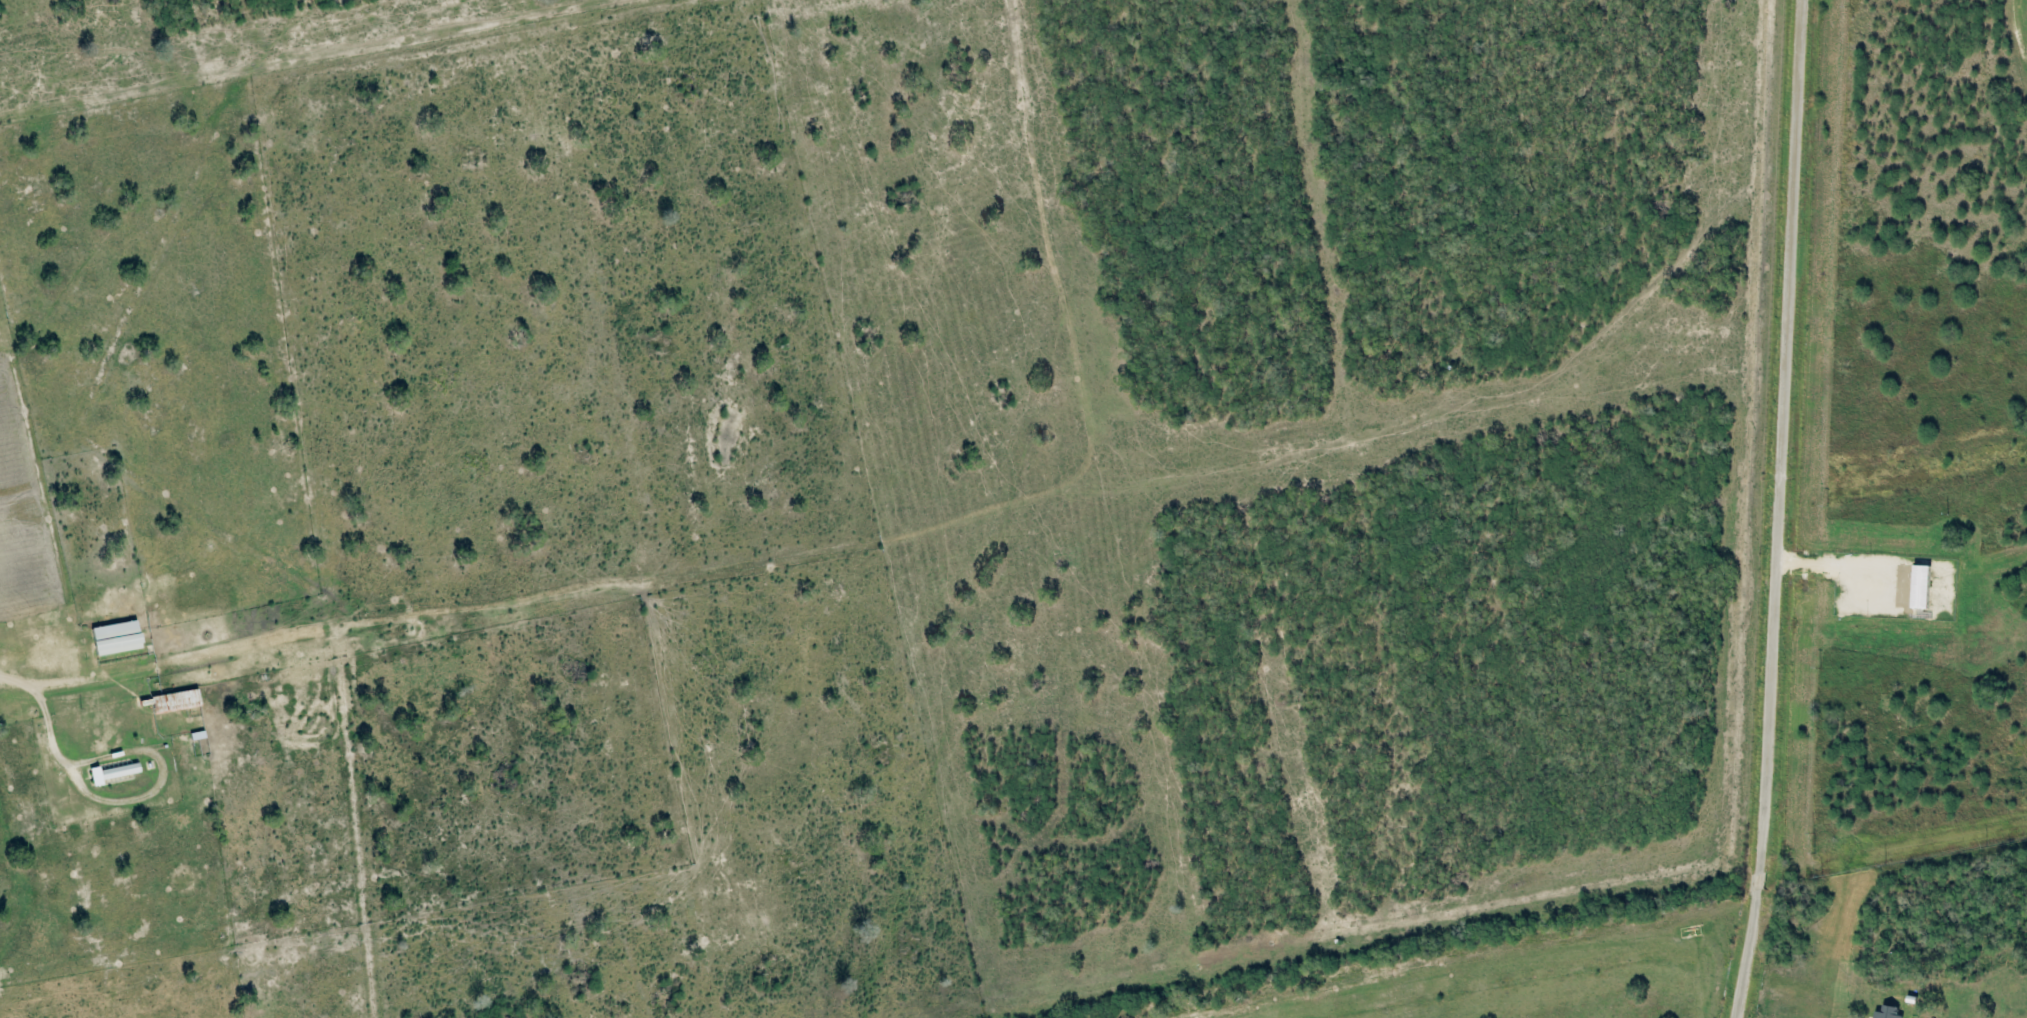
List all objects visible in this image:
road: (1784, 509)
building: (1921, 588)
building: (114, 638)
building: (112, 773)
building: (1890, 1013)

